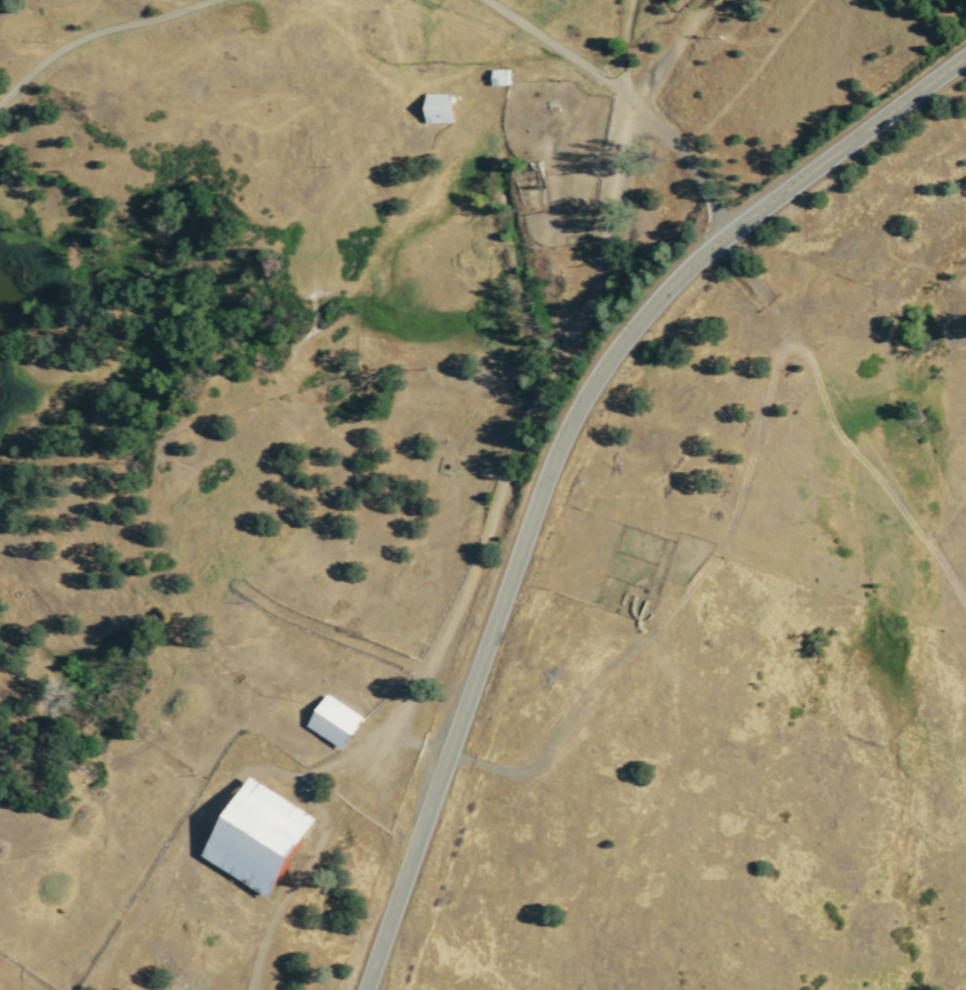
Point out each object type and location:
road: (98, 32)
road: (623, 46)
building: (499, 76)
road: (628, 95)
building: (439, 108)
road: (527, 411)
road: (833, 427)
road: (557, 448)
building: (335, 722)
building: (260, 837)

